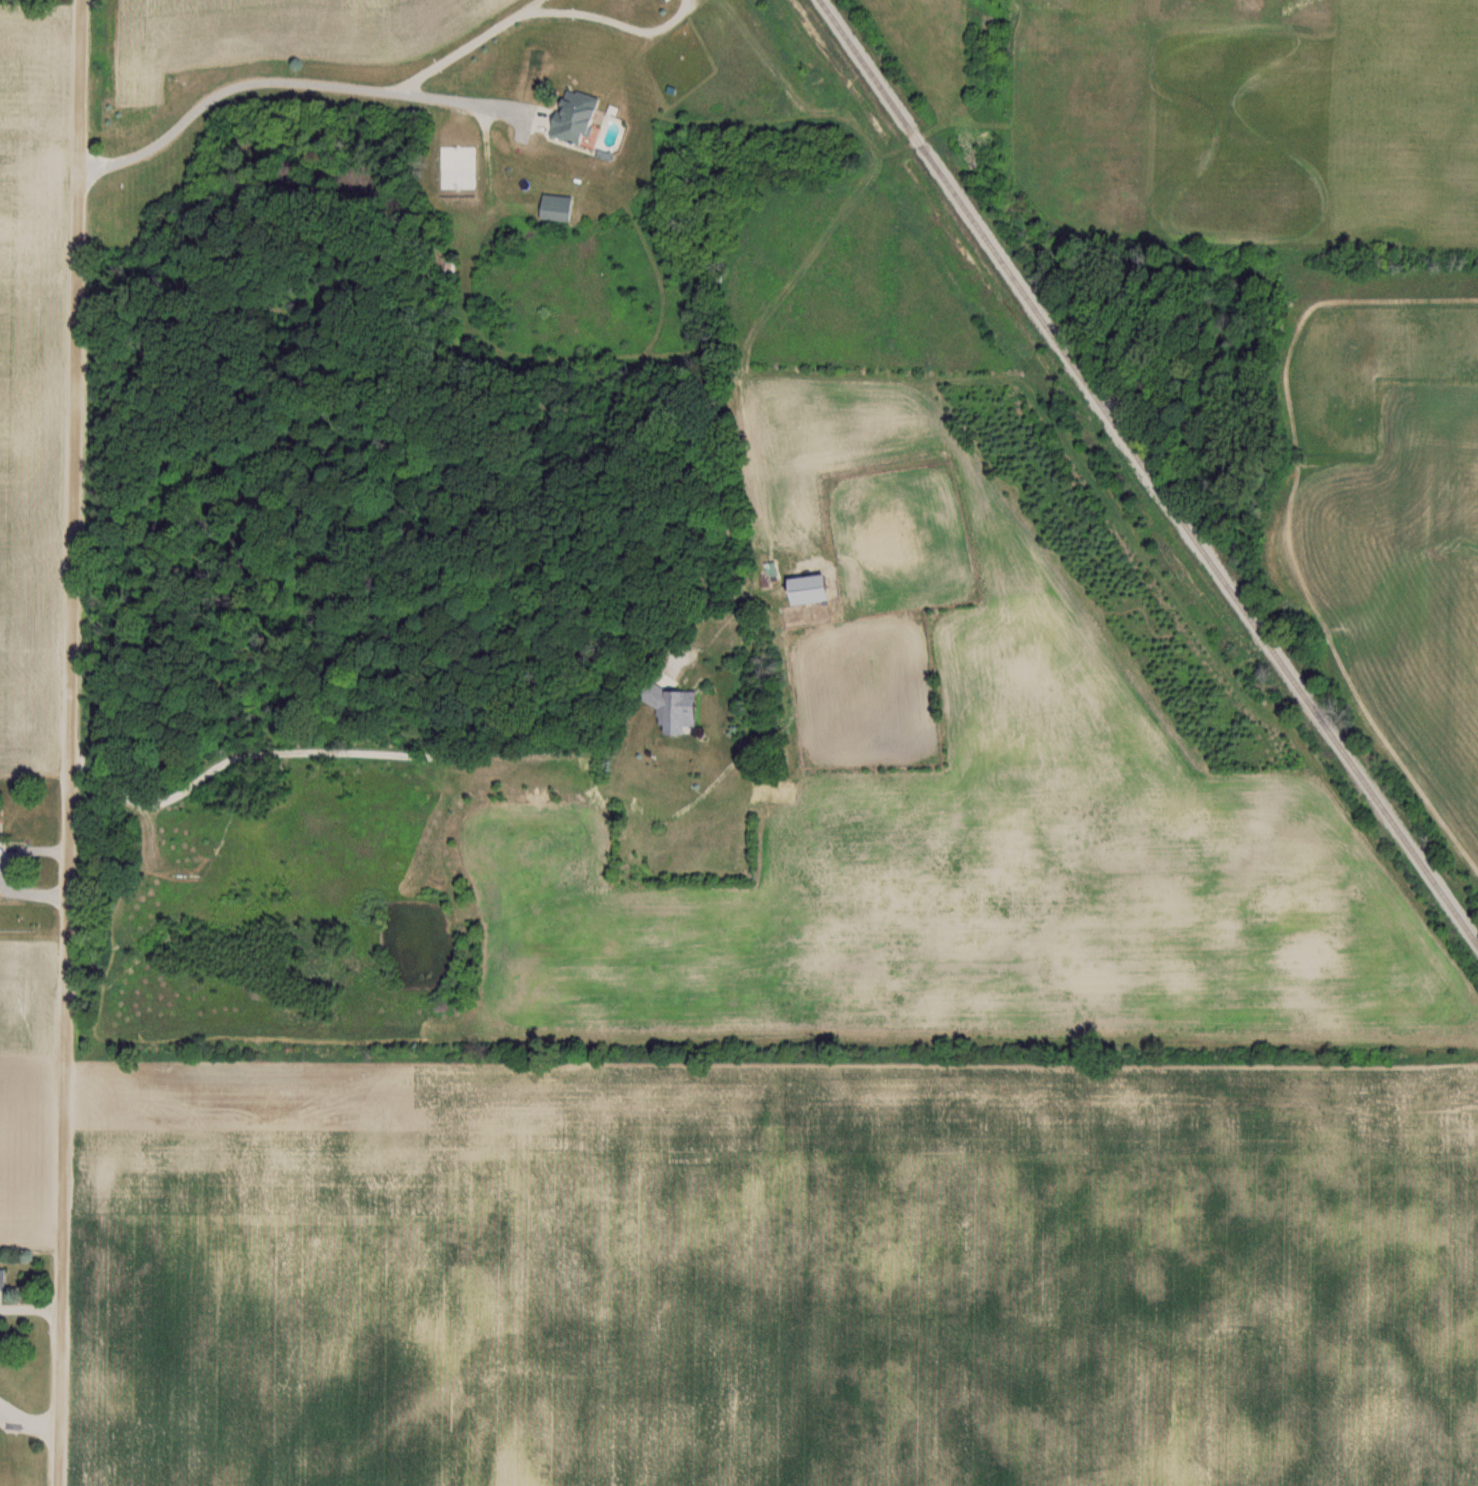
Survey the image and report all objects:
road: (314, 84)
road: (463, 102)
building: (581, 117)
building: (560, 209)
railway: (1149, 471)
building: (678, 710)
road: (79, 743)
road: (422, 755)
road: (35, 849)
road: (34, 894)
building: (5, 1280)
building: (5, 1475)

